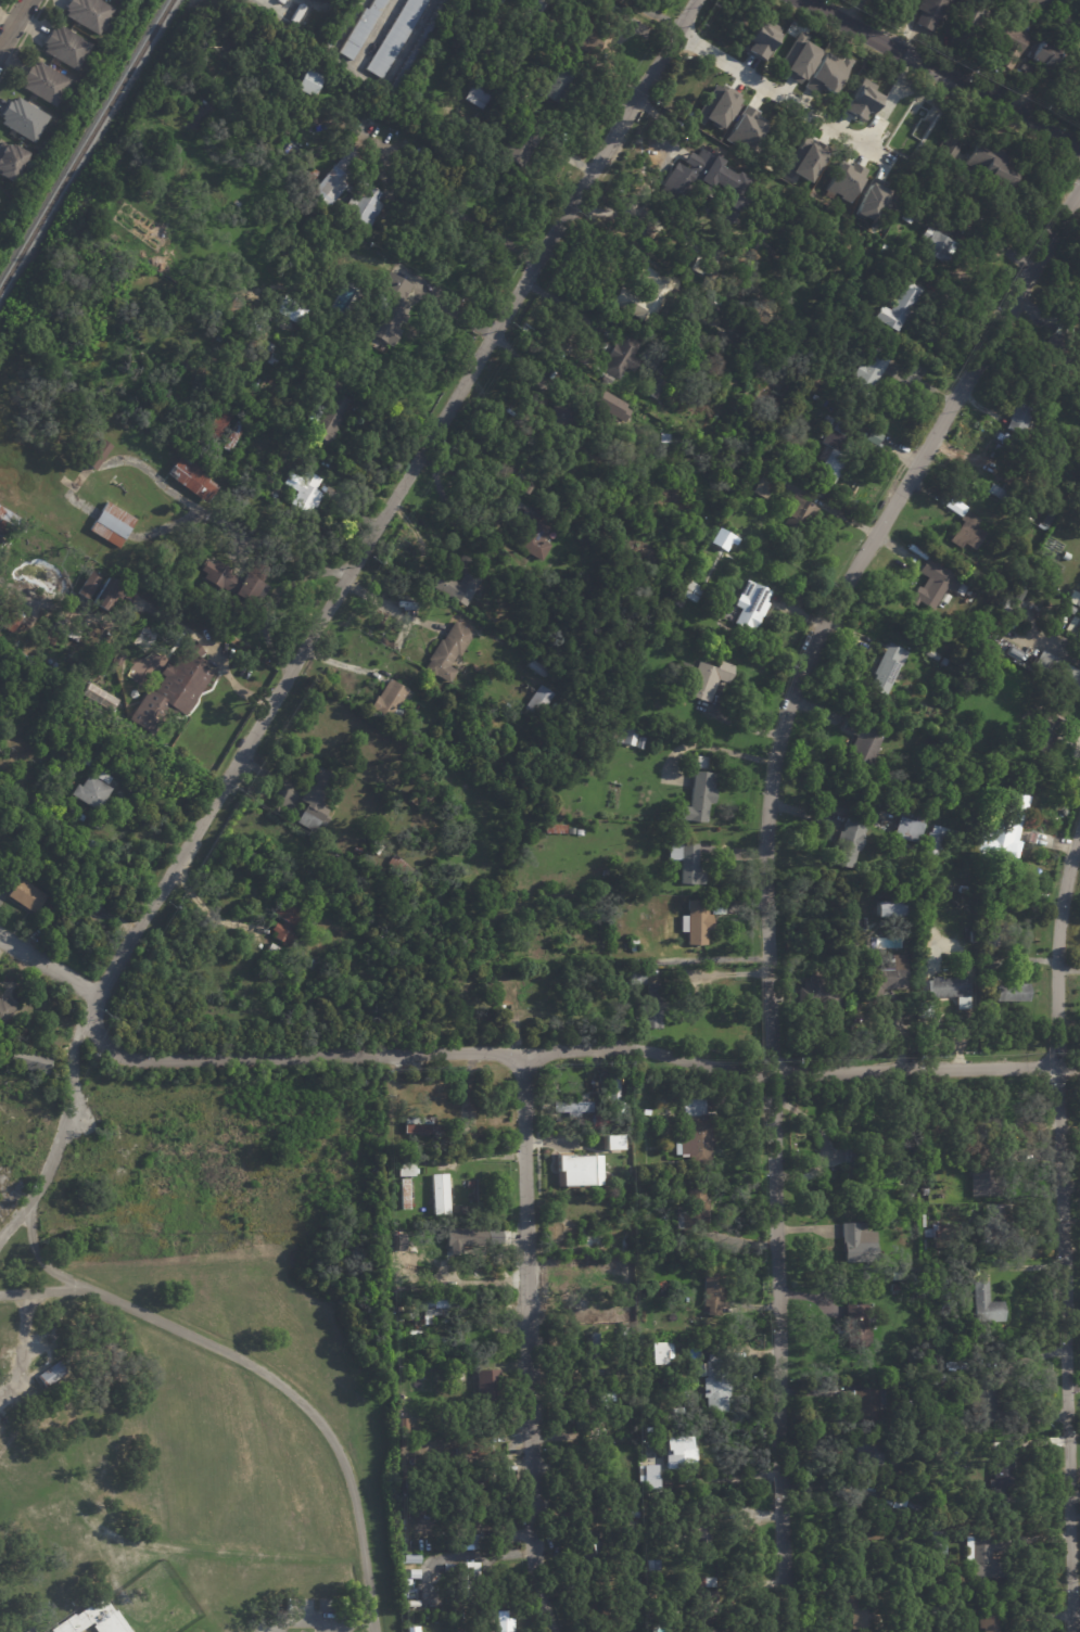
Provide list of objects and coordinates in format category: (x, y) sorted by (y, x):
building: (281, 1)
building: (892, 2)
building: (1034, 2)
road: (4, 8)
building: (532, 12)
building: (935, 13)
building: (87, 14)
building: (298, 14)
building: (1038, 14)
building: (496, 21)
road: (14, 24)
building: (968, 25)
building: (592, 27)
building: (335, 28)
building: (360, 29)
building: (396, 36)
road: (22, 37)
building: (760, 39)
building: (1007, 43)
building: (64, 48)
building: (416, 48)
building: (1043, 54)
building: (797, 60)
building: (1026, 72)
building: (827, 74)
road: (944, 76)
building: (559, 82)
building: (42, 84)
building: (305, 84)
building: (71, 87)
road: (774, 91)
building: (480, 92)
building: (860, 101)
building: (716, 107)
building: (22, 119)
building: (746, 129)
building: (521, 142)
railway: (86, 144)
building: (804, 160)
building: (10, 162)
building: (945, 162)
building: (989, 162)
building: (26, 164)
building: (303, 169)
building: (334, 177)
building: (844, 180)
building: (703, 182)
building: (875, 200)
building: (361, 208)
building: (913, 209)
road: (470, 219)
building: (624, 220)
building: (939, 246)
building: (697, 266)
building: (722, 280)
building: (1079, 289)
building: (735, 292)
building: (643, 296)
building: (899, 307)
building: (290, 310)
building: (389, 310)
building: (255, 341)
building: (1059, 346)
building: (619, 358)
building: (866, 372)
building: (652, 388)
building: (609, 407)
building: (327, 410)
building: (1020, 416)
building: (560, 417)
building: (218, 424)
building: (232, 436)
building: (662, 438)
building: (1005, 442)
building: (830, 451)
building: (97, 455)
building: (190, 477)
building: (1079, 479)
building: (526, 488)
building: (762, 488)
building: (305, 494)
building: (1008, 497)
road: (393, 498)
road: (207, 520)
building: (797, 520)
building: (1046, 521)
building: (5, 524)
building: (112, 526)
building: (963, 527)
building: (253, 528)
building: (536, 537)
building: (1066, 557)
road: (329, 571)
building: (164, 572)
building: (458, 582)
building: (1000, 583)
building: (89, 584)
building: (237, 585)
building: (935, 587)
building: (689, 591)
building: (1018, 595)
building: (112, 598)
building: (1075, 600)
building: (676, 601)
road: (386, 603)
building: (750, 605)
building: (1005, 609)
building: (1070, 610)
building: (8, 622)
building: (1073, 628)
building: (65, 629)
building: (673, 638)
building: (969, 651)
building: (533, 652)
building: (447, 653)
building: (1014, 653)
building: (931, 655)
building: (118, 661)
building: (943, 663)
road: (221, 666)
building: (536, 668)
building: (685, 668)
building: (884, 668)
building: (1058, 672)
building: (841, 673)
building: (953, 673)
building: (708, 679)
building: (977, 686)
building: (170, 690)
building: (102, 697)
building: (387, 701)
building: (850, 701)
building: (537, 702)
building: (1042, 734)
building: (625, 737)
building: (640, 743)
building: (863, 743)
road: (712, 748)
building: (410, 752)
building: (975, 757)
building: (84, 762)
building: (699, 763)
building: (1047, 785)
building: (92, 791)
building: (423, 792)
building: (698, 800)
building: (315, 802)
building: (1015, 806)
building: (913, 815)
building: (80, 818)
building: (92, 824)
building: (550, 828)
building: (907, 832)
building: (938, 840)
building: (1000, 843)
building: (90, 845)
building: (847, 845)
building: (686, 864)
building: (403, 870)
building: (986, 870)
road: (770, 872)
building: (23, 890)
building: (96, 897)
road: (202, 903)
building: (716, 907)
building: (889, 911)
building: (46, 917)
building: (285, 921)
building: (697, 923)
building: (989, 940)
building: (890, 943)
building: (633, 944)
building: (633, 949)
building: (271, 952)
road: (47, 966)
building: (636, 966)
building: (928, 970)
road: (720, 972)
building: (637, 978)
building: (886, 978)
building: (946, 989)
building: (1006, 993)
building: (821, 996)
road: (91, 1006)
building: (652, 1008)
building: (5, 1009)
building: (925, 1011)
road: (574, 1048)
building: (28, 1060)
building: (634, 1083)
building: (610, 1099)
building: (571, 1106)
building: (988, 1118)
building: (582, 1122)
building: (421, 1125)
building: (698, 1132)
building: (599, 1134)
building: (611, 1142)
building: (393, 1146)
building: (872, 1148)
building: (405, 1170)
building: (579, 1170)
building: (983, 1181)
building: (469, 1184)
building: (404, 1193)
building: (440, 1196)
building: (694, 1214)
building: (1002, 1224)
building: (942, 1233)
road: (1066, 1235)
building: (462, 1237)
building: (626, 1240)
building: (593, 1242)
building: (860, 1242)
building: (664, 1248)
building: (408, 1265)
building: (891, 1276)
building: (893, 1289)
building: (713, 1292)
road: (38, 1293)
building: (984, 1303)
building: (436, 1306)
building: (625, 1308)
building: (855, 1323)
building: (624, 1333)
road: (523, 1343)
building: (657, 1351)
road: (20, 1353)
building: (696, 1353)
building: (587, 1362)
building: (55, 1373)
building: (454, 1377)
road: (270, 1380)
building: (939, 1380)
building: (717, 1387)
road: (3, 1390)
building: (490, 1394)
building: (988, 1397)
building: (864, 1399)
building: (586, 1404)
building: (873, 1440)
building: (473, 1451)
building: (679, 1452)
building: (866, 1453)
building: (475, 1476)
building: (647, 1476)
building: (1003, 1480)
building: (894, 1484)
building: (940, 1489)
building: (479, 1504)
building: (631, 1504)
building: (864, 1522)
building: (696, 1528)
building: (634, 1530)
building: (936, 1537)
building: (470, 1539)
building: (595, 1547)
building: (635, 1554)
building: (988, 1556)
building: (410, 1560)
building: (649, 1565)
building: (628, 1578)
building: (469, 1579)
building: (708, 1580)
building: (937, 1582)
building: (411, 1591)
building: (993, 1606)
building: (865, 1611)
building: (599, 1615)
parking lot: (317, 1616)
building: (712, 1616)
building: (94, 1619)
building: (501, 1622)
building: (991, 1622)
building: (646, 1624)
building: (410, 1629)

